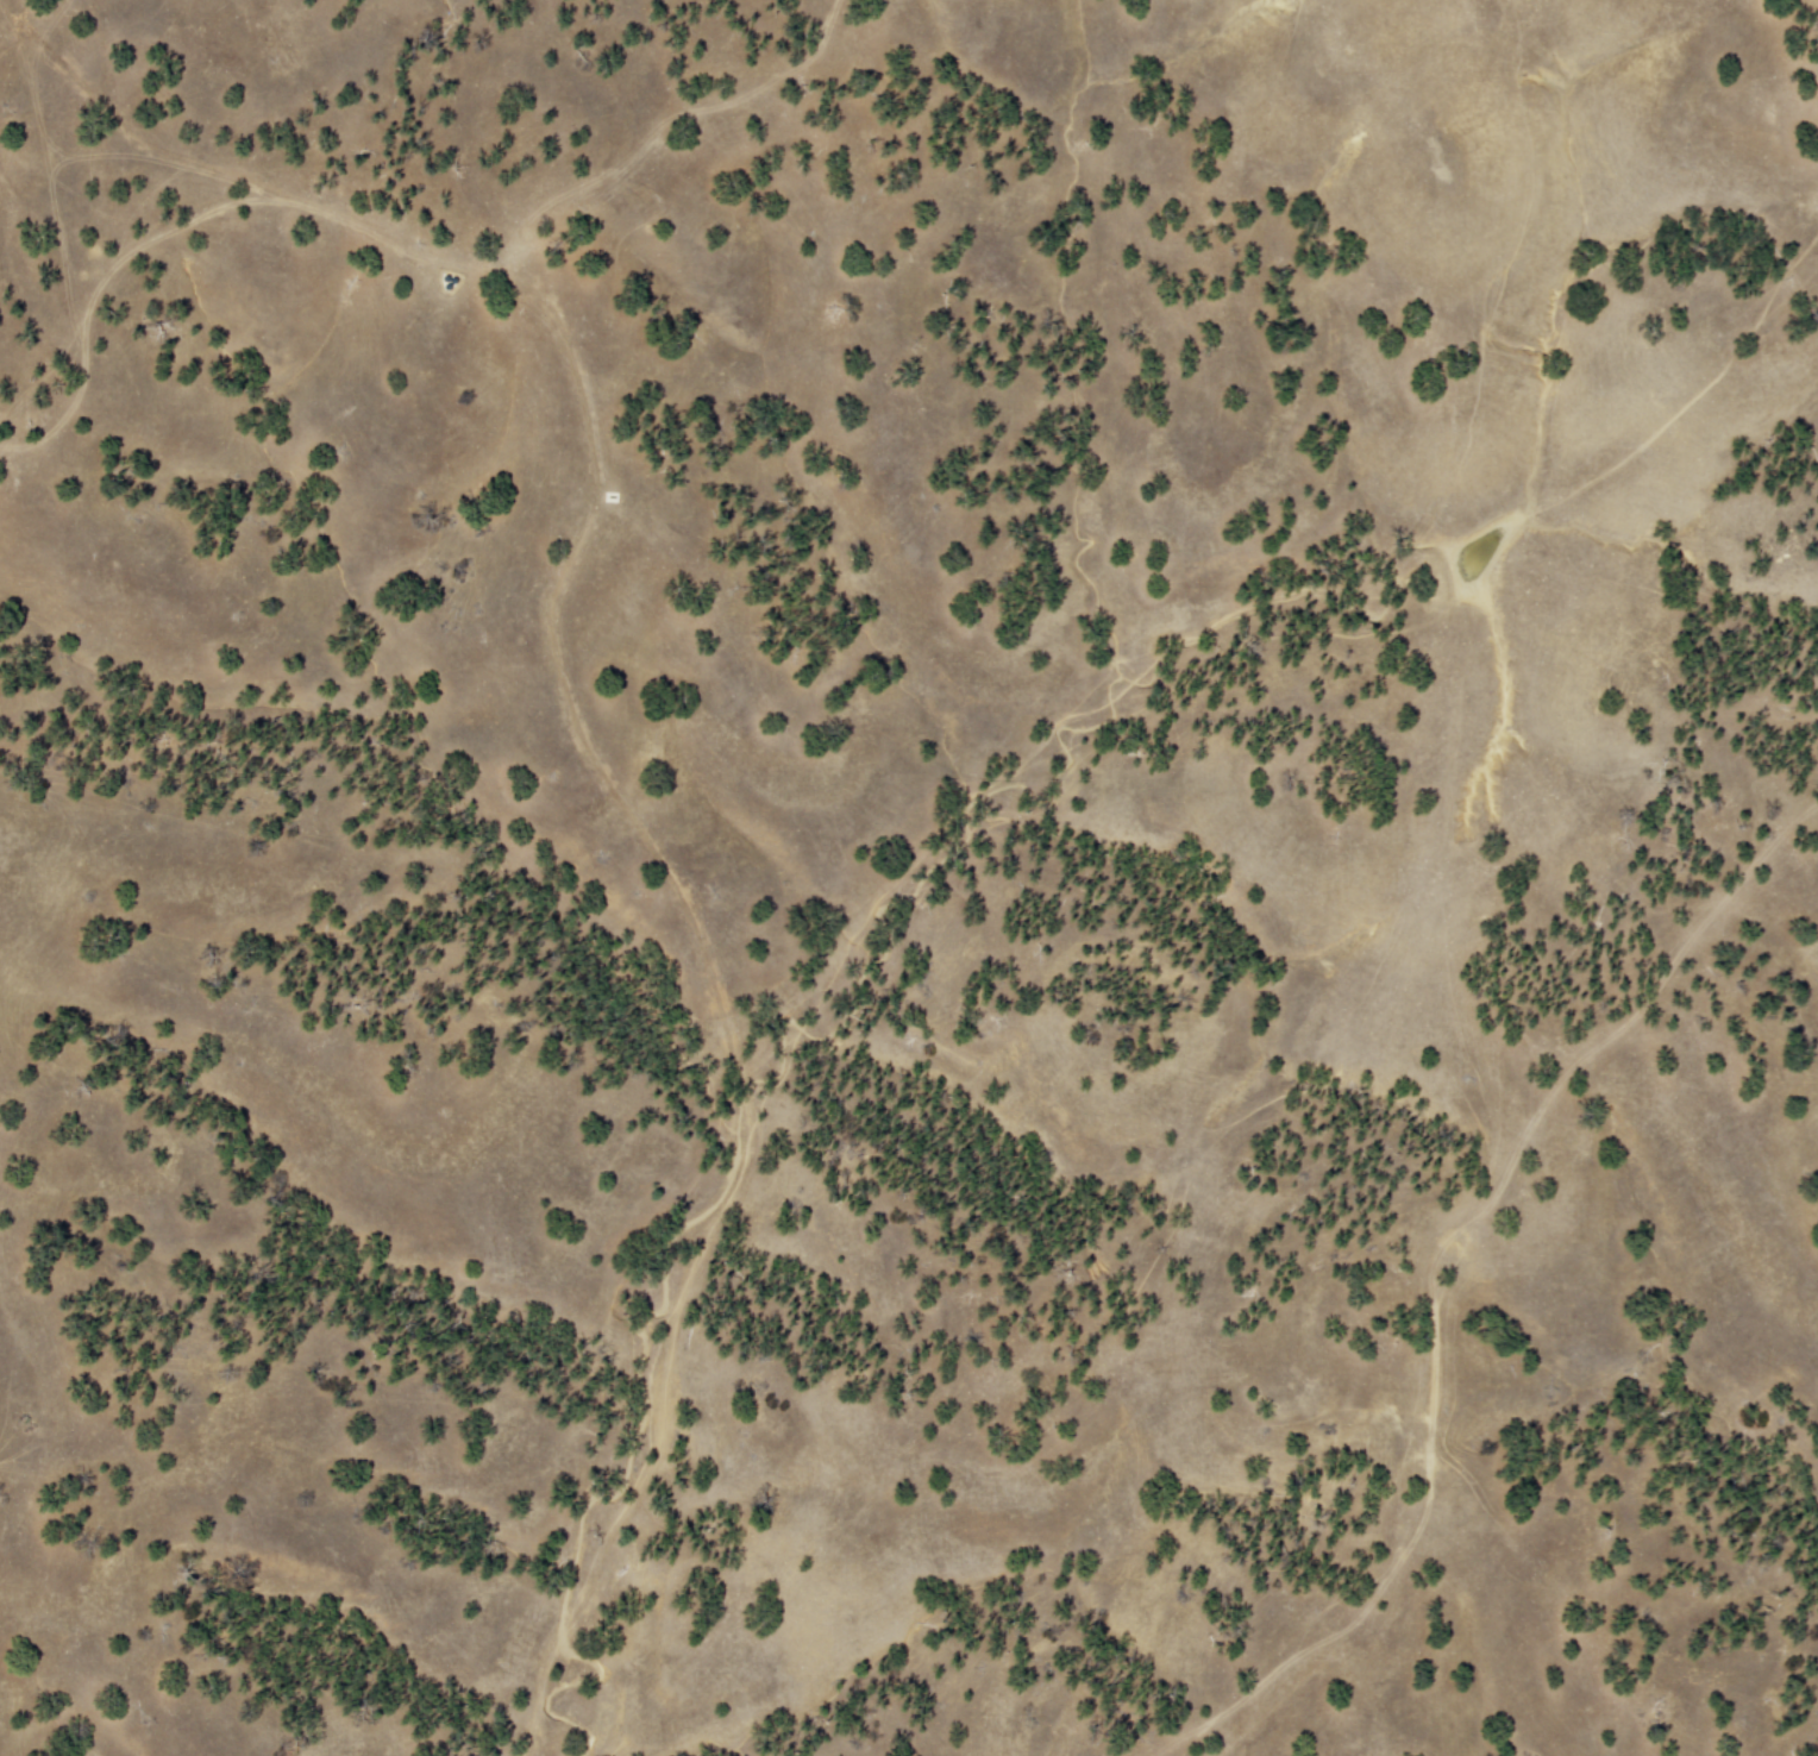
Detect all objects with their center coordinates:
road: (1428, 1266)

